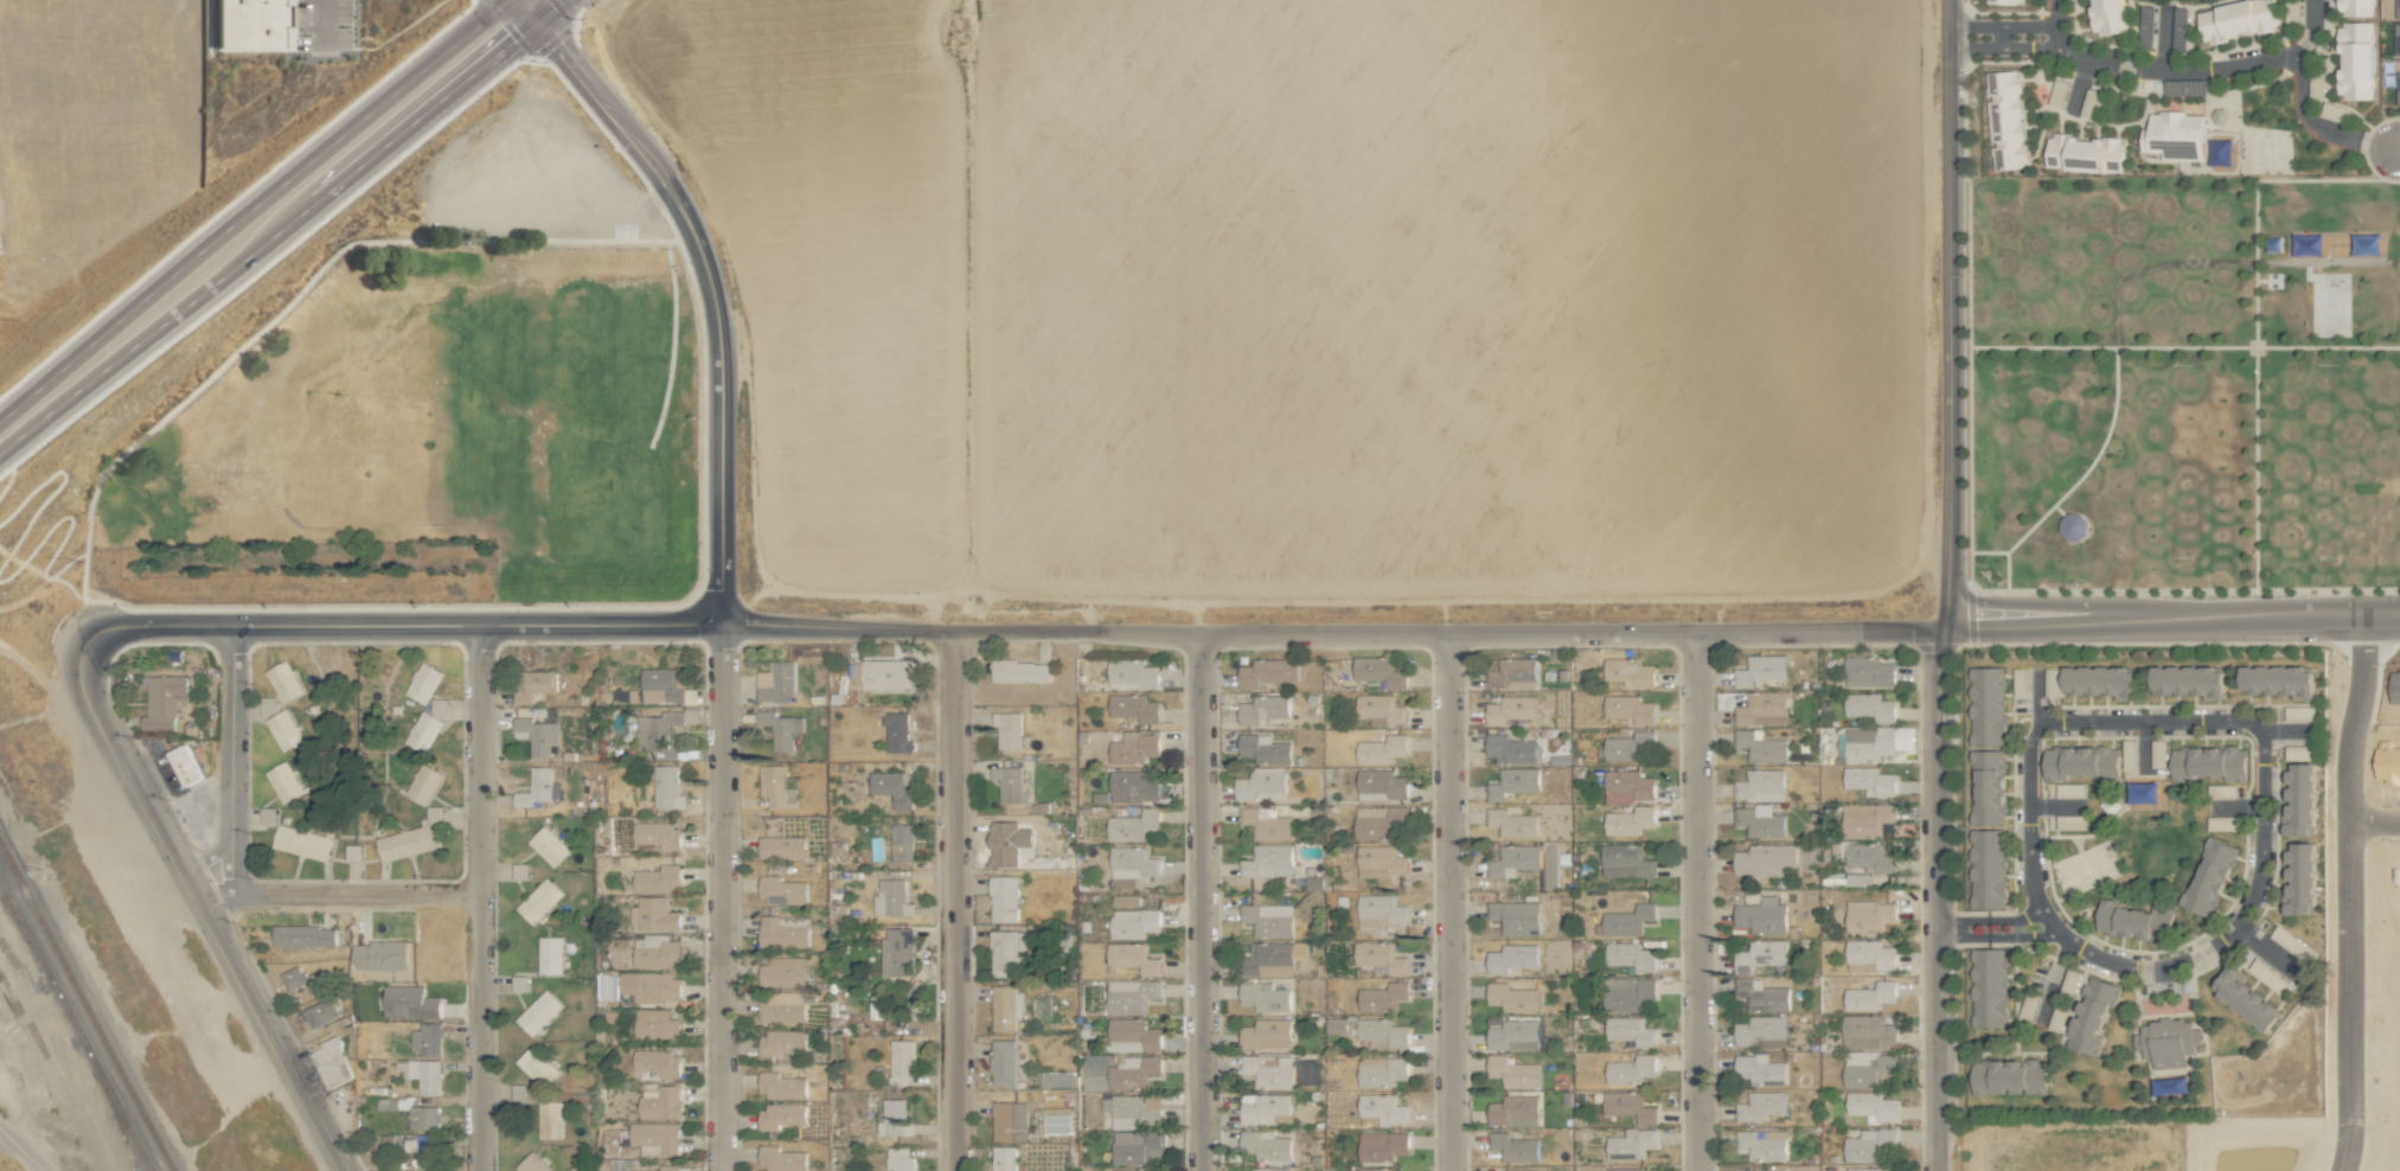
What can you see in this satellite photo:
building: (2004, 1)
building: (2355, 7)
road: (526, 8)
road: (545, 8)
building: (2396, 8)
building: (2106, 15)
building: (2235, 19)
road: (320, 21)
building: (244, 24)
road: (2001, 27)
road: (2164, 39)
road: (2002, 49)
building: (2355, 59)
road: (2181, 71)
road: (2079, 83)
building: (2398, 85)
road: (422, 110)
building: (2004, 119)
road: (2316, 124)
building: (2174, 134)
road: (2396, 148)
building: (2084, 153)
road: (249, 207)
road: (712, 290)
road: (1948, 314)
road: (154, 326)
road: (9, 471)
road: (59, 485)
building: (2071, 526)
road: (58, 551)
road: (2171, 616)
road: (402, 625)
road: (960, 631)
road: (1572, 633)
road: (613, 640)
road: (243, 654)
building: (1760, 670)
building: (1019, 671)
building: (1378, 671)
building: (1867, 671)
building: (1266, 672)
building: (1628, 672)
building: (882, 673)
building: (1511, 673)
building: (1132, 674)
building: (2187, 680)
building: (2277, 680)
building: (282, 682)
building: (422, 682)
building: (2099, 682)
building: (774, 683)
building: (531, 684)
building: (657, 686)
building: (2394, 686)
building: (161, 700)
building: (437, 706)
building: (1869, 706)
building: (1133, 708)
building: (1261, 709)
building: (1380, 709)
building: (1510, 709)
building: (1628, 709)
building: (1761, 709)
road: (91, 715)
road: (2254, 727)
building: (655, 729)
building: (777, 729)
building: (281, 730)
building: (1007, 730)
building: (422, 732)
building: (896, 732)
building: (536, 735)
building: (1876, 742)
road: (2330, 744)
building: (1627, 746)
building: (1760, 747)
building: (1133, 748)
building: (1261, 749)
building: (1381, 749)
building: (1510, 749)
building: (2298, 753)
road: (230, 759)
building: (2079, 762)
building: (184, 763)
building: (2207, 763)
building: (1869, 781)
building: (1512, 782)
building: (282, 783)
building: (1009, 785)
building: (1260, 785)
building: (1380, 785)
building: (422, 786)
building: (1132, 786)
building: (1627, 786)
building: (1760, 786)
building: (535, 787)
building: (775, 787)
building: (666, 788)
building: (890, 788)
building: (1986, 788)
building: (2299, 800)
building: (433, 813)
building: (267, 815)
building: (1864, 819)
building: (1628, 820)
building: (1377, 821)
building: (1759, 821)
building: (1265, 823)
building: (1511, 823)
building: (2221, 823)
building: (1132, 825)
building: (640, 834)
building: (301, 843)
building: (404, 843)
building: (901, 843)
building: (1006, 843)
building: (548, 846)
building: (780, 846)
building: (836, 847)
building: (352, 851)
road: (210, 855)
building: (1865, 857)
building: (1765, 858)
building: (1513, 859)
building: (1267, 860)
building: (1380, 860)
building: (1625, 862)
building: (2209, 876)
building: (657, 878)
building: (1855, 879)
building: (2299, 879)
building: (780, 890)
road: (337, 895)
road: (721, 896)
road: (476, 897)
building: (890, 898)
building: (1003, 898)
road: (1937, 898)
building: (538, 901)
road: (952, 901)
building: (1127, 901)
road: (1202, 902)
road: (1446, 902)
road: (1697, 902)
building: (1380, 910)
building: (655, 914)
building: (1761, 915)
building: (1868, 915)
building: (1516, 916)
building: (1267, 920)
building: (1627, 920)
building: (2132, 921)
building: (1133, 923)
road: (2044, 926)
road: (1947, 928)
road: (1958, 928)
railway: (26, 932)
building: (782, 932)
building: (302, 935)
railway: (26, 938)
building: (655, 952)
building: (896, 952)
building: (1005, 952)
building: (549, 954)
building: (1760, 954)
building: (378, 955)
building: (1869, 955)
building: (1380, 956)
building: (1555, 956)
building: (1630, 956)
building: (1132, 958)
building: (1511, 958)
building: (1267, 959)
building: (1339, 959)
building: (783, 971)
road: (232, 972)
building: (297, 979)
building: (649, 987)
building: (1988, 987)
road: (2331, 991)
building: (1626, 993)
road: (492, 994)
building: (1761, 994)
building: (1131, 996)
building: (1869, 996)
building: (1263, 997)
building: (1381, 997)
building: (1511, 997)
building: (2244, 999)
building: (409, 1003)
railway: (87, 1007)
building: (782, 1007)
building: (1005, 1007)
building: (321, 1011)
building: (538, 1012)
building: (2091, 1016)
building: (653, 1023)
building: (1339, 1024)
building: (1630, 1030)
building: (1759, 1030)
building: (1382, 1032)
building: (1867, 1032)
building: (1265, 1034)
building: (1132, 1035)
building: (1512, 1035)
building: (424, 1039)
building: (2167, 1041)
building: (781, 1042)
building: (901, 1057)
building: (331, 1061)
building: (657, 1062)
building: (1003, 1063)
building: (536, 1067)
building: (1864, 1068)
building: (1630, 1069)
building: (1760, 1069)
building: (1268, 1070)
building: (1381, 1070)
building: (1132, 1071)
building: (1512, 1071)
building: (421, 1074)
railway: (101, 1076)
building: (2008, 1076)
building: (780, 1086)
building: (388, 1103)
building: (660, 1103)
railway: (110, 1105)
building: (1760, 1105)
building: (1627, 1106)
building: (1871, 1106)
building: (1263, 1108)
building: (1383, 1108)
building: (1513, 1109)
building: (780, 1115)
building: (423, 1118)
building: (894, 1118)
building: (549, 1120)
building: (1009, 1121)
building: (654, 1137)
building: (1630, 1144)
building: (1761, 1144)
building: (1868, 1144)
building: (1265, 1145)
building: (1135, 1146)
building: (1381, 1146)
building: (1512, 1147)
road: (23, 1150)
building: (422, 1150)
building: (898, 1158)
building: (1003, 1158)
building: (780, 1159)
building: (531, 1164)
building: (1131, 1169)
building: (1375, 1169)
building: (1623, 1169)
building: (1863, 1169)
building: (1519, 1170)
building: (1765, 1170)

